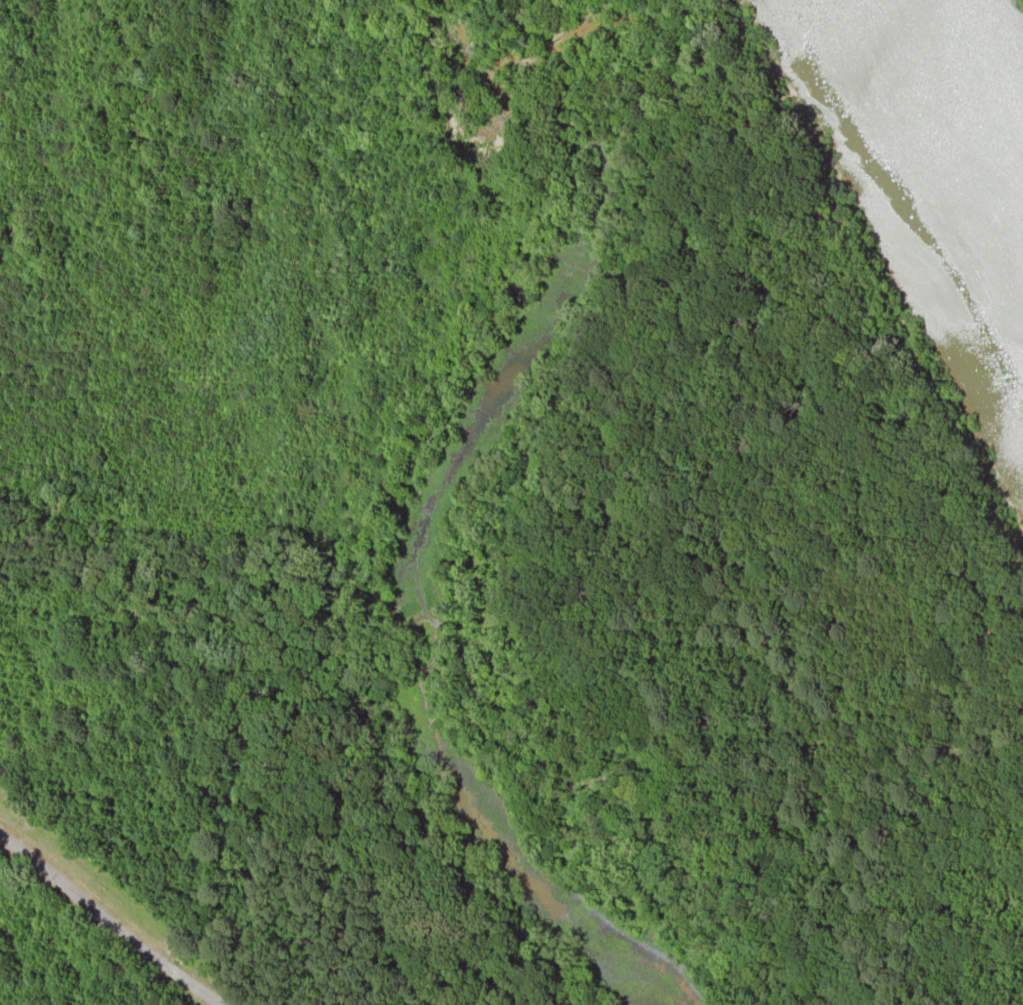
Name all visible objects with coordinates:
road: (108, 922)

